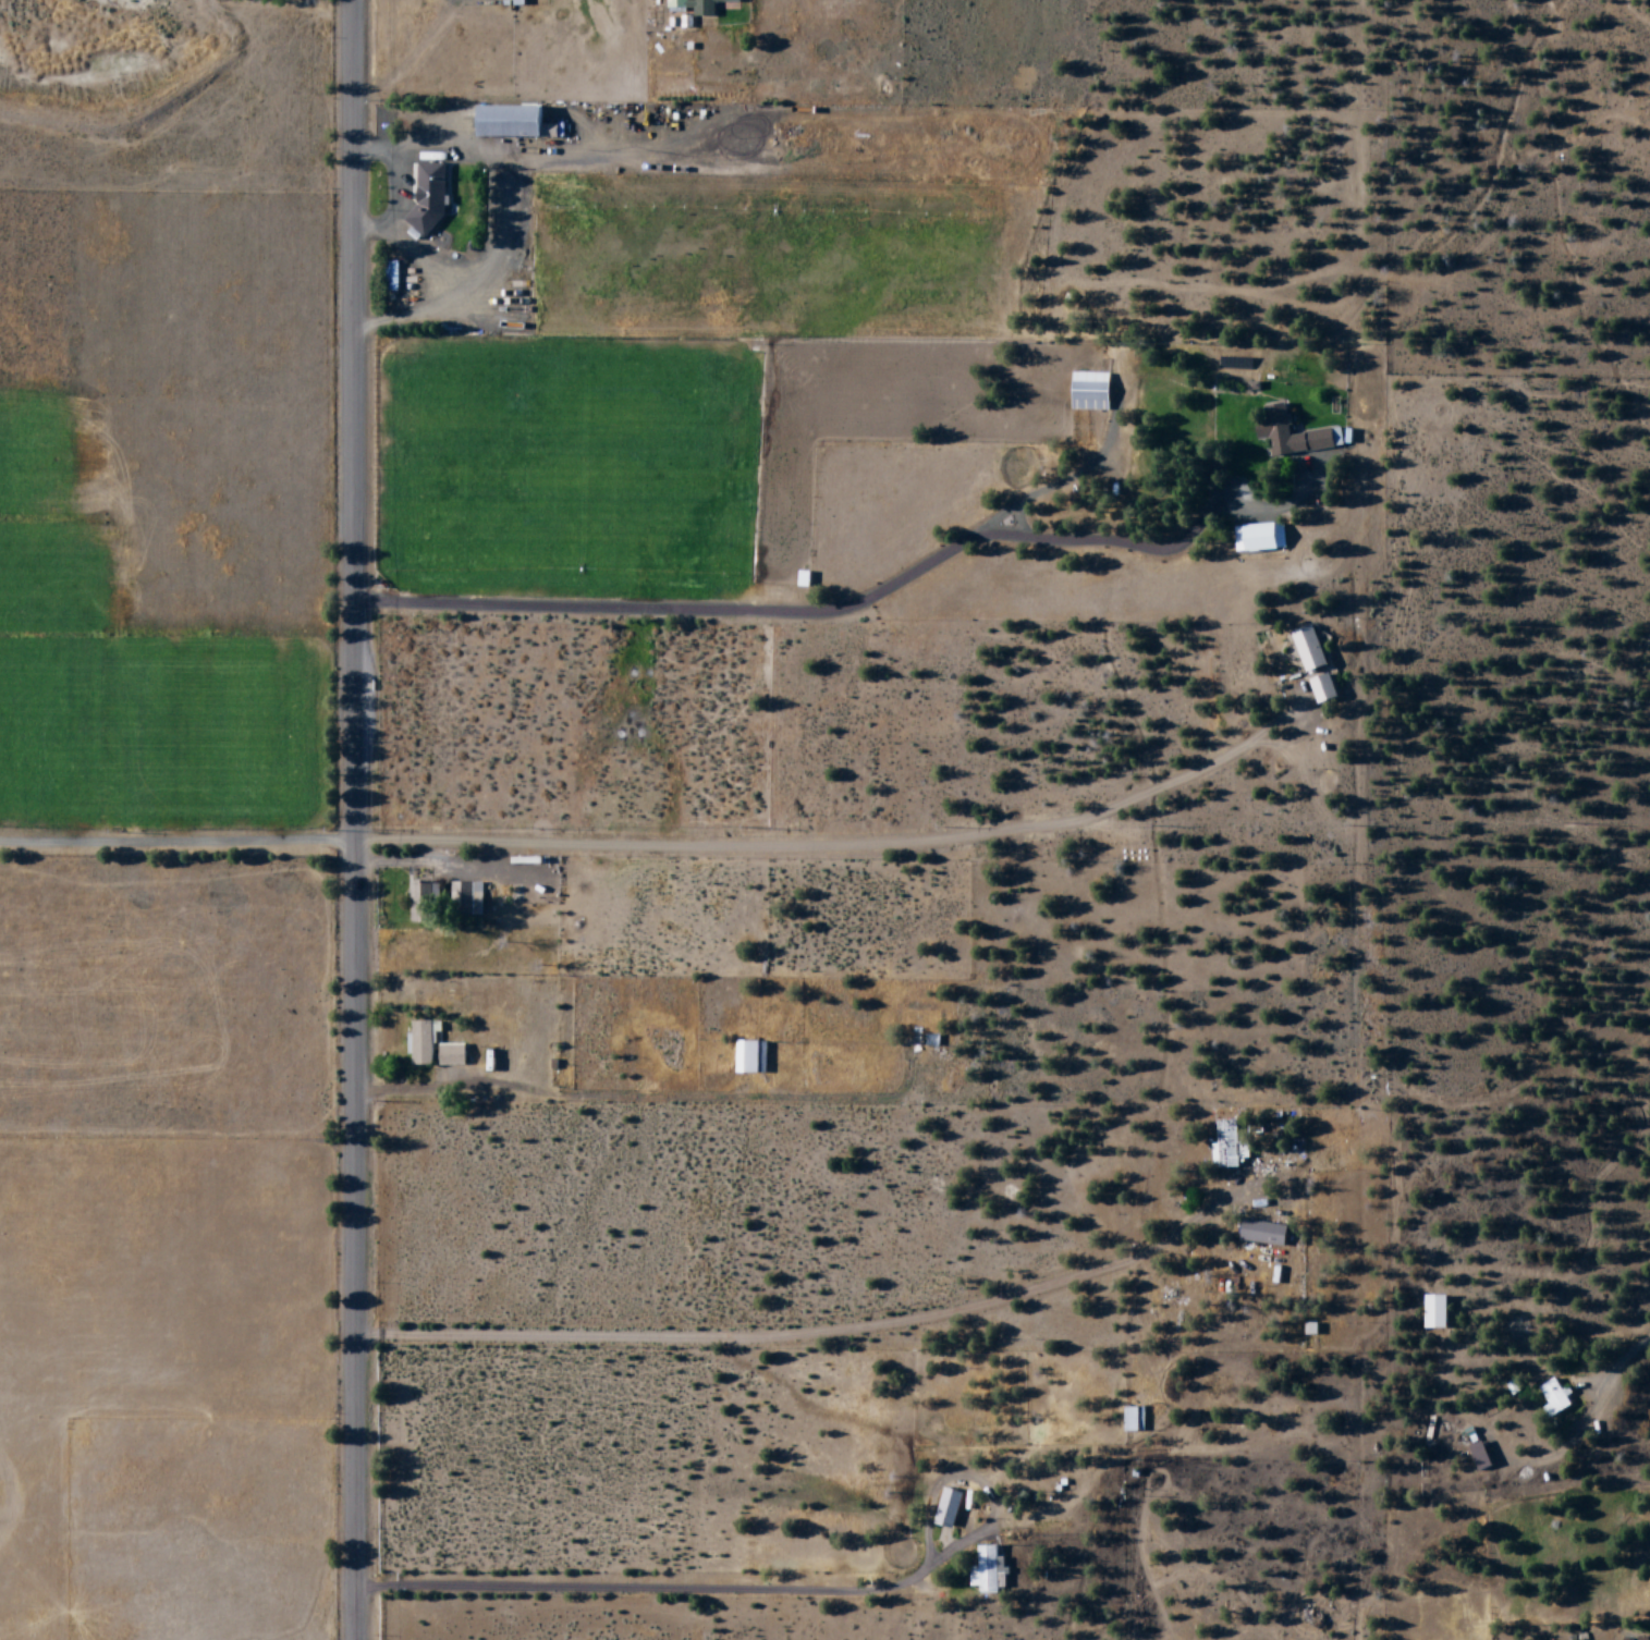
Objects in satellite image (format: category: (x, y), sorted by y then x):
building: (698, 7)
building: (515, 122)
building: (430, 198)
building: (393, 277)
building: (1092, 392)
building: (1299, 435)
building: (1261, 538)
building: (1311, 648)
building: (1324, 688)
road: (351, 820)
building: (469, 897)
building: (425, 902)
building: (425, 1041)
building: (453, 1055)
building: (751, 1057)
building: (1231, 1146)
building: (1266, 1233)
building: (1439, 1311)
building: (1312, 1329)
building: (1555, 1397)
road: (1592, 1409)
building: (1136, 1419)
building: (1482, 1456)
building: (950, 1508)
building: (990, 1570)
building: (1627, 1639)
building: (1641, 1639)

